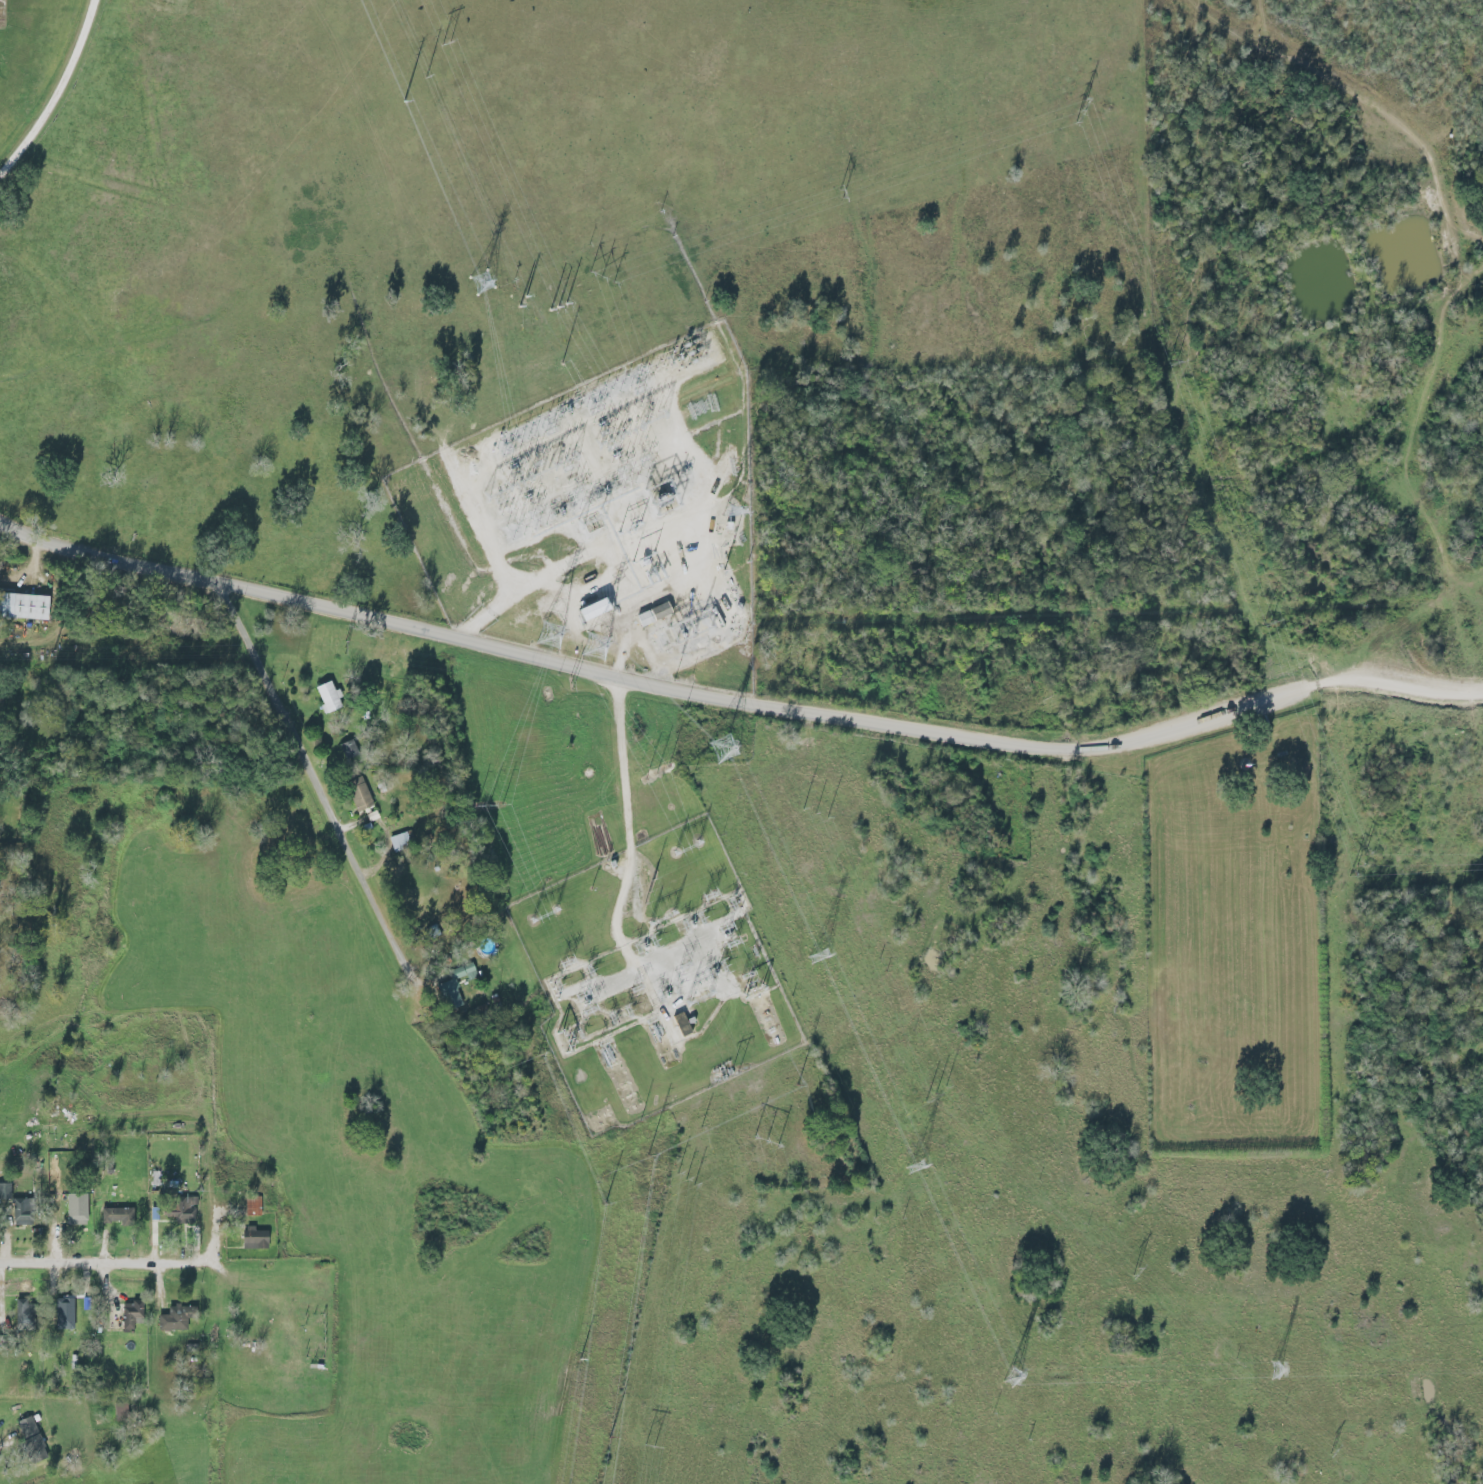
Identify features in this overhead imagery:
power tower: (447, 43)
road: (151, 81)
road: (60, 97)
power tower: (1080, 111)
power tower: (839, 194)
power tower: (600, 278)
power tower: (484, 284)
road: (1452, 298)
power tower: (561, 307)
power tower: (1170, 363)
building: (662, 500)
power substation: (603, 520)
road: (496, 558)
road: (526, 586)
building: (22, 606)
building: (589, 609)
building: (651, 614)
power tower: (1265, 622)
power tower: (550, 634)
power tower: (597, 646)
power tower: (342, 648)
power tower: (51, 654)
power tower: (569, 684)
building: (326, 697)
road: (738, 705)
power tower: (681, 709)
power tower: (723, 750)
road: (313, 773)
power tower: (654, 774)
road: (628, 790)
building: (357, 794)
power tower: (486, 807)
power tower: (813, 813)
building: (398, 842)
power tower: (1355, 866)
power tower: (650, 893)
power tower: (710, 899)
power tower: (734, 905)
power tower: (755, 954)
power tower: (818, 957)
power tower: (566, 965)
power tower: (686, 967)
power tower: (592, 971)
building: (468, 972)
power substation: (652, 977)
power tower: (560, 986)
power tower: (637, 987)
building: (448, 995)
power tower: (654, 1023)
building: (679, 1025)
building: (565, 1045)
power tower: (734, 1074)
power tower: (933, 1095)
power tower: (765, 1143)
power tower: (914, 1168)
road: (295, 1171)
power tower: (684, 1180)
building: (4, 1192)
building: (85, 1209)
building: (190, 1209)
building: (29, 1212)
building: (176, 1212)
building: (126, 1216)
building: (16, 1217)
building: (261, 1239)
road: (147, 1267)
power tower: (1133, 1271)
building: (21, 1314)
building: (35, 1314)
building: (138, 1314)
building: (123, 1316)
building: (73, 1318)
building: (180, 1320)
power tower: (1273, 1369)
power tower: (1011, 1378)
building: (30, 1439)
building: (39, 1439)
power tower: (648, 1445)
power tower: (1330, 1452)

